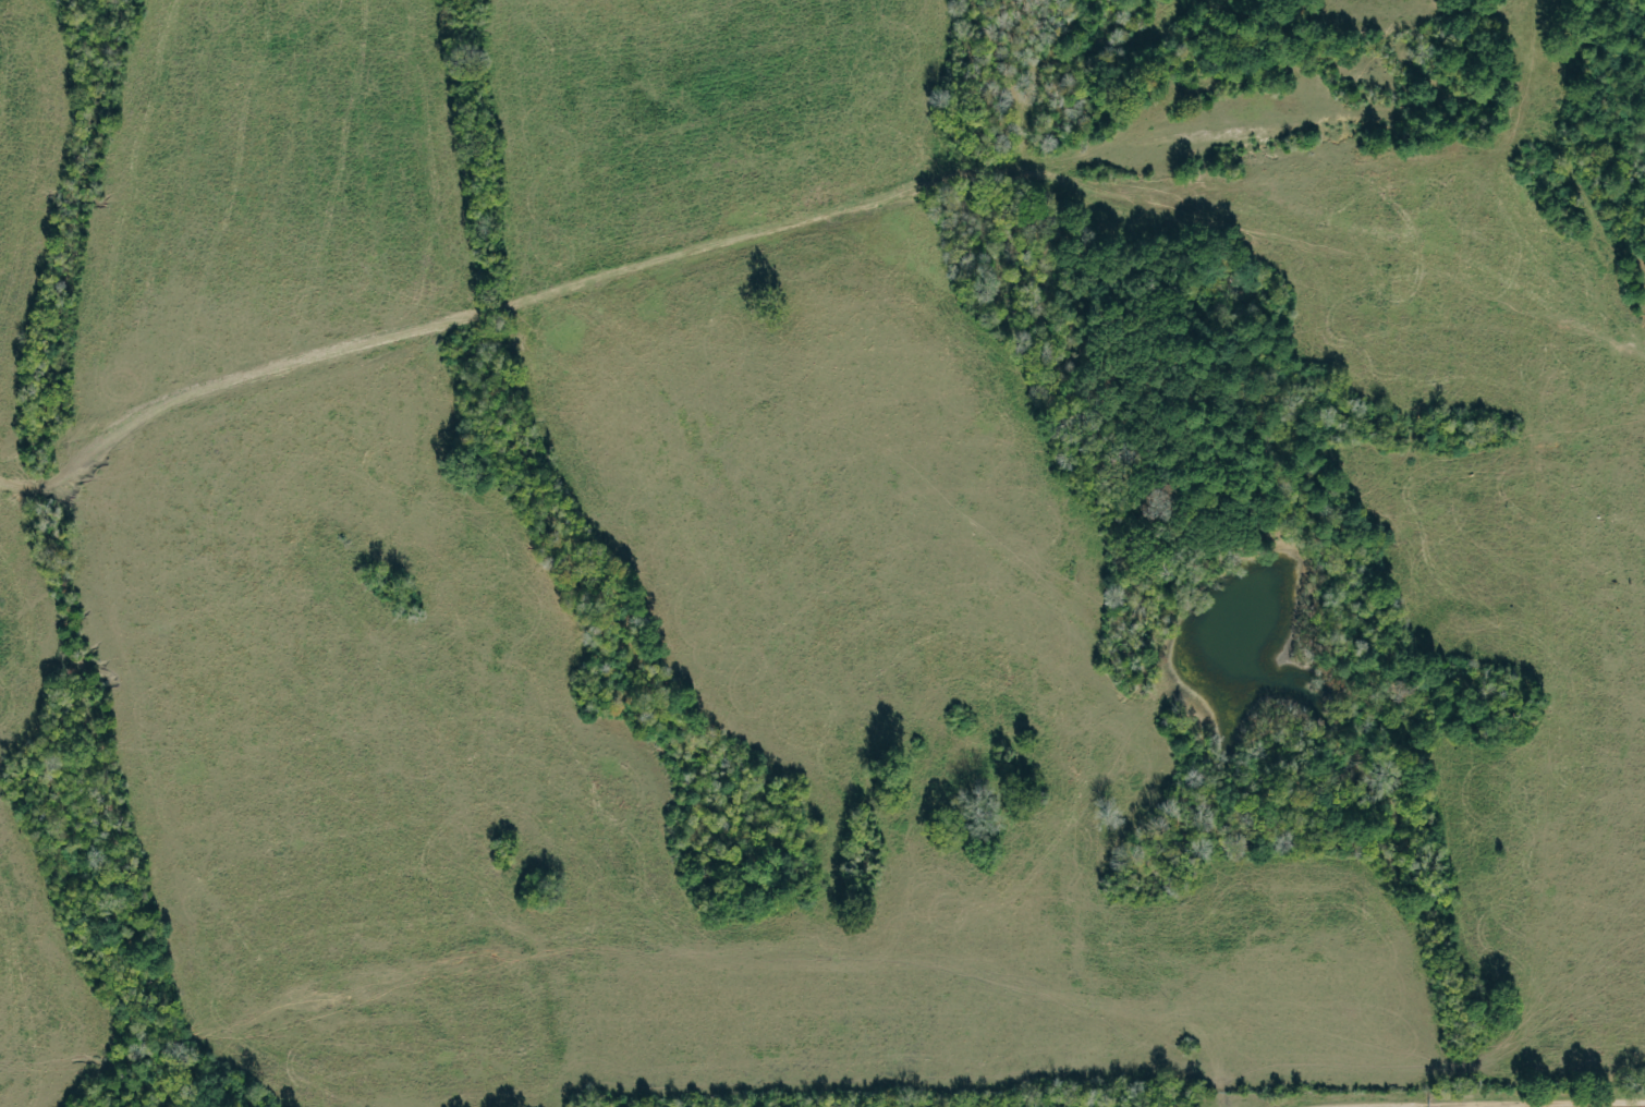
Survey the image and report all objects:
road: (1538, 1102)
road: (1396, 1106)

